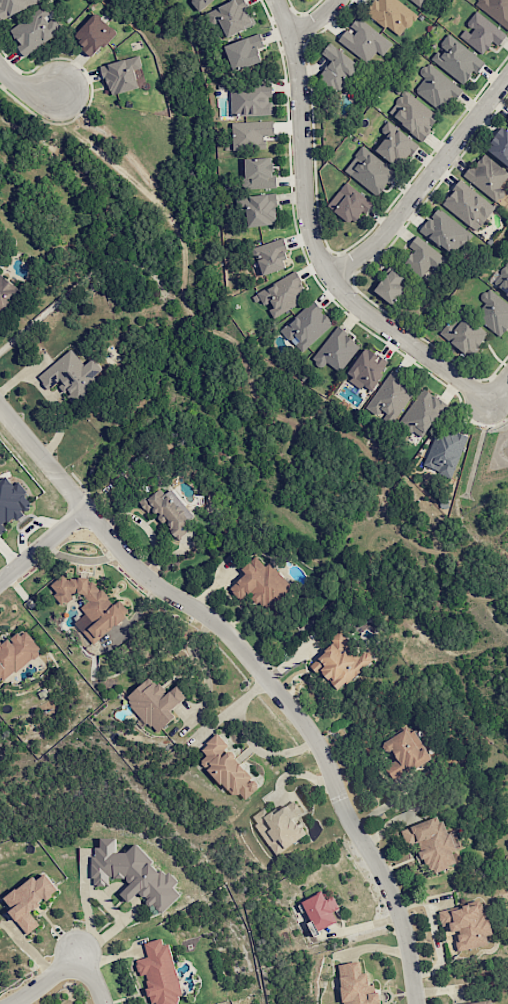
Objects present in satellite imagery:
building: (421, 2)
building: (200, 3)
building: (494, 9)
building: (391, 15)
building: (231, 17)
road: (316, 20)
building: (35, 30)
building: (481, 33)
building: (94, 34)
building: (364, 40)
building: (244, 52)
building: (456, 59)
building: (336, 68)
building: (123, 75)
building: (436, 87)
road: (25, 88)
building: (250, 101)
building: (413, 115)
building: (507, 119)
building: (251, 134)
building: (396, 145)
building: (500, 146)
building: (370, 171)
building: (259, 172)
building: (487, 176)
road: (423, 183)
building: (348, 203)
building: (468, 205)
building: (259, 209)
building: (445, 232)
road: (311, 240)
building: (271, 256)
building: (423, 256)
building: (502, 276)
building: (390, 286)
building: (6, 290)
building: (281, 295)
building: (493, 311)
building: (306, 326)
building: (463, 334)
building: (336, 349)
building: (367, 369)
building: (71, 376)
road: (499, 389)
building: (390, 398)
building: (422, 413)
building: (444, 452)
building: (12, 502)
building: (168, 511)
road: (42, 543)
building: (260, 582)
building: (89, 605)
building: (16, 652)
building: (340, 661)
road: (203, 664)
road: (261, 670)
building: (155, 703)
building: (405, 752)
building: (228, 768)
building: (280, 826)
building: (432, 843)
building: (134, 874)
building: (29, 900)
building: (321, 910)
building: (465, 926)
road: (84, 945)
building: (159, 972)
road: (93, 979)
road: (44, 980)
building: (356, 985)
building: (483, 1002)

